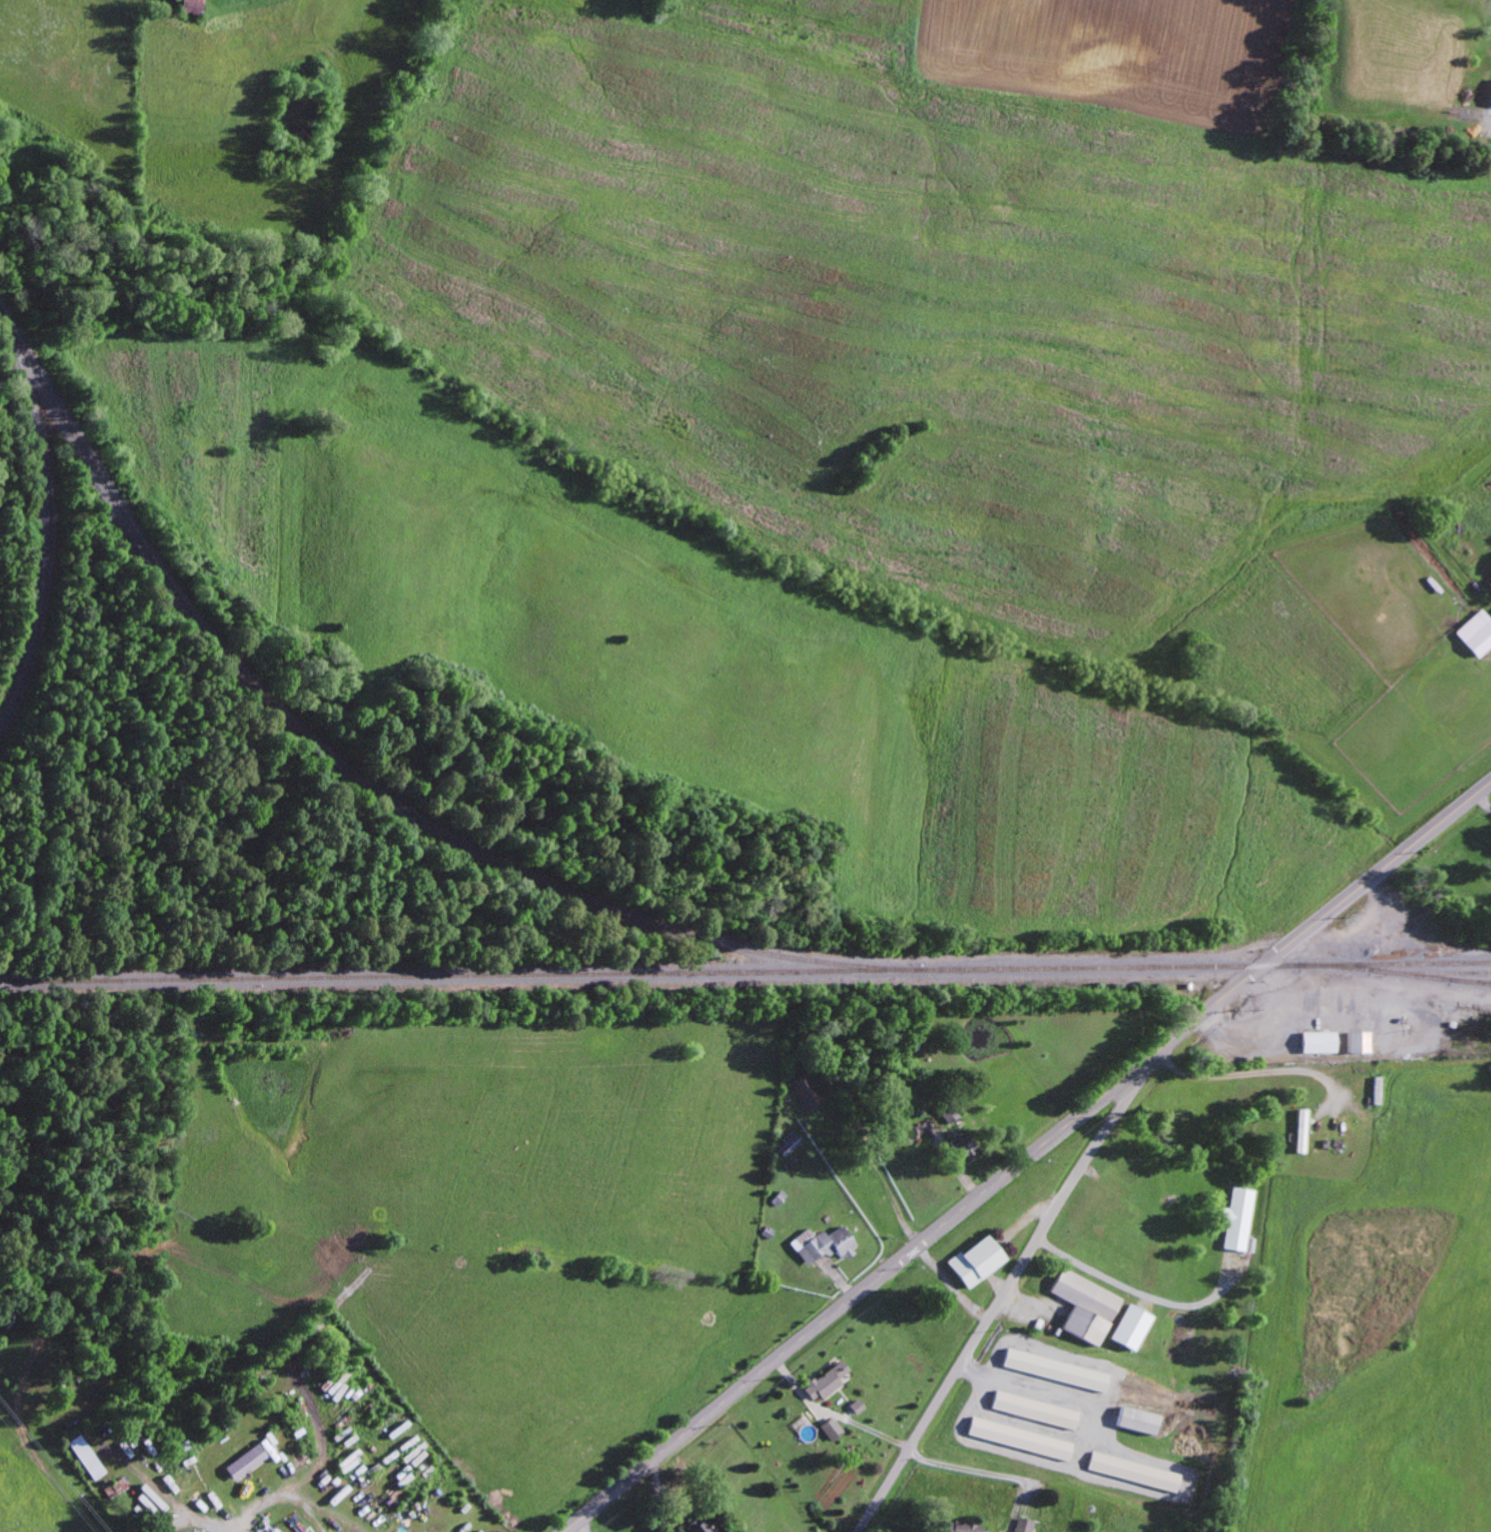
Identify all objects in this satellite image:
building: (188, 7)
railway: (44, 517)
building: (1476, 635)
railway: (363, 784)
railway: (745, 973)
railway: (1394, 974)
building: (907, 1040)
building: (1356, 1041)
building: (1317, 1042)
building: (808, 1090)
building: (948, 1112)
building: (792, 1143)
building: (963, 1144)
road: (1027, 1156)
building: (1238, 1221)
building: (824, 1244)
building: (975, 1261)
road: (1006, 1290)
building: (1084, 1307)
building: (1129, 1327)
building: (1054, 1370)
building: (824, 1382)
building: (1034, 1409)
building: (1136, 1420)
building: (831, 1428)
building: (1019, 1438)
building: (267, 1445)
building: (85, 1457)
building: (244, 1462)
building: (1133, 1472)
building: (1024, 1525)
building: (700, 1527)
building: (965, 1527)
building: (191, 1531)

